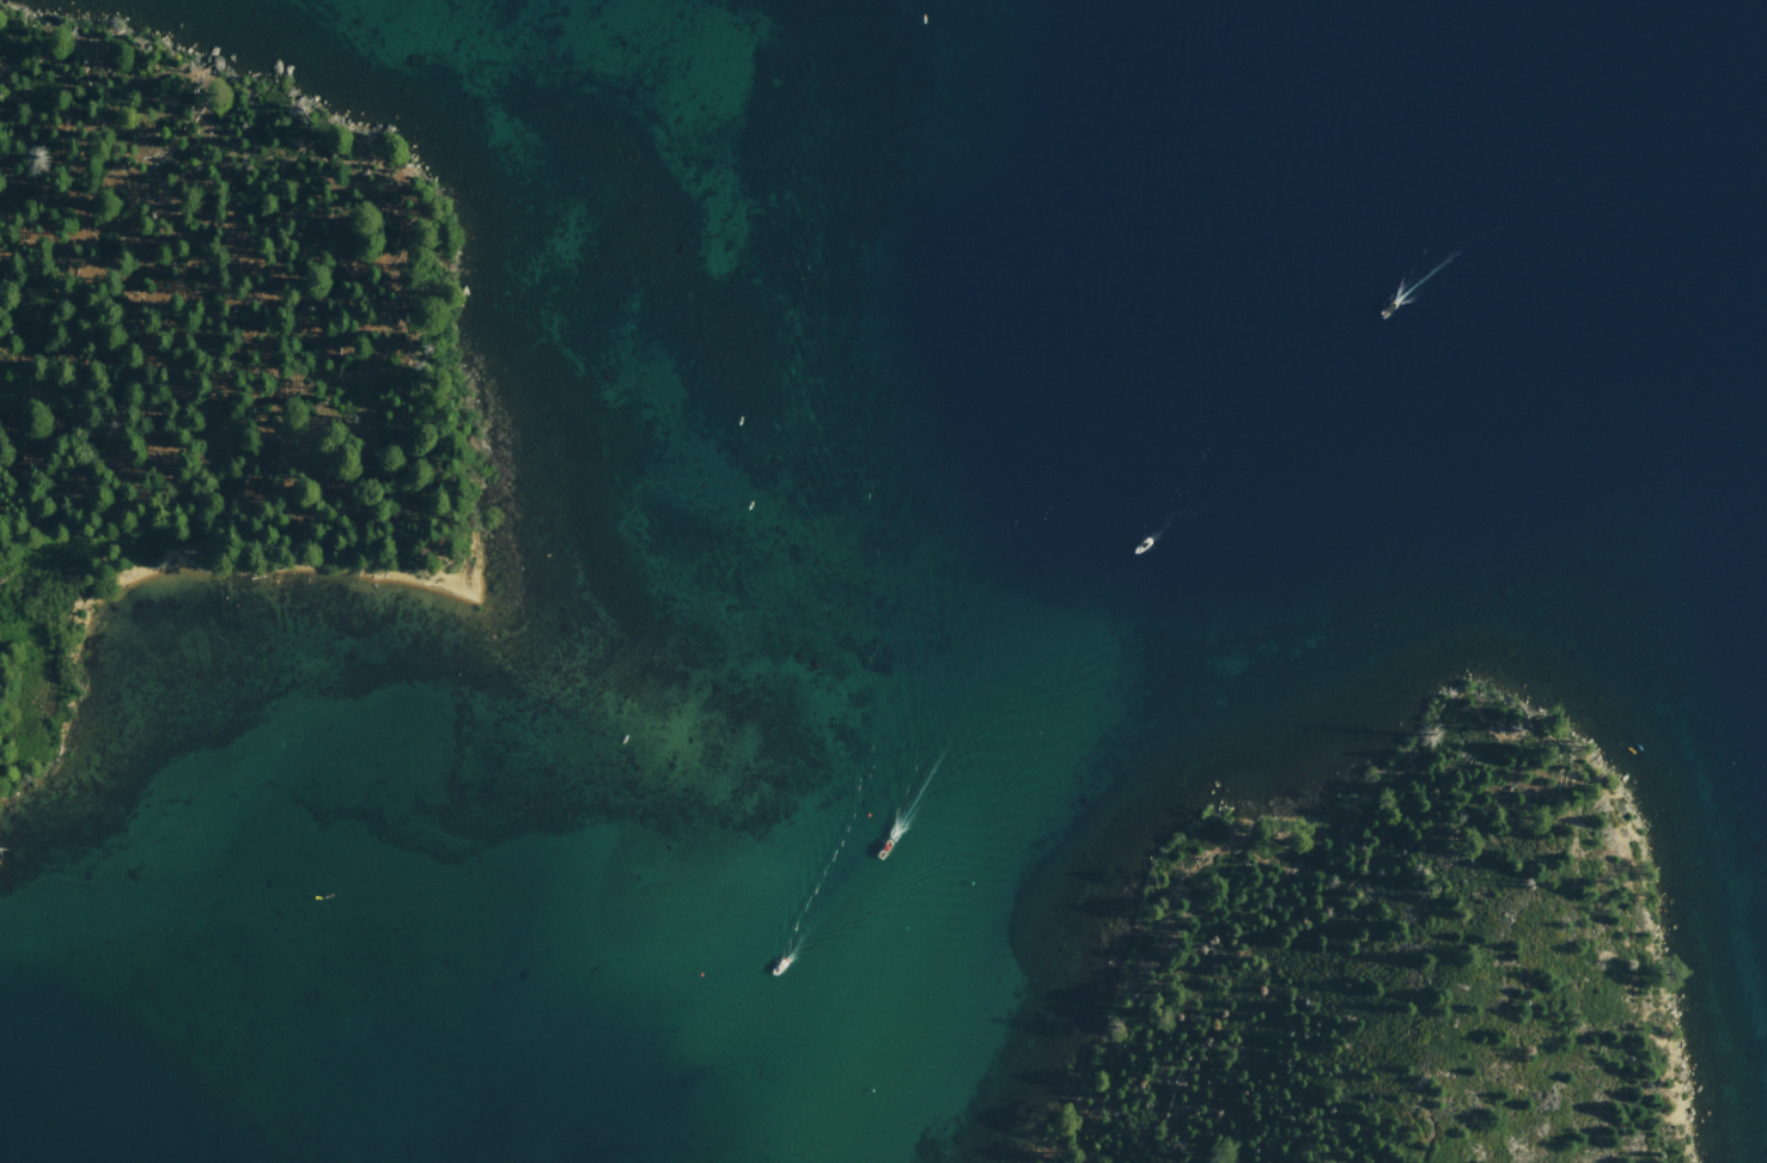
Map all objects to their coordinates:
road: (1422, 1122)

